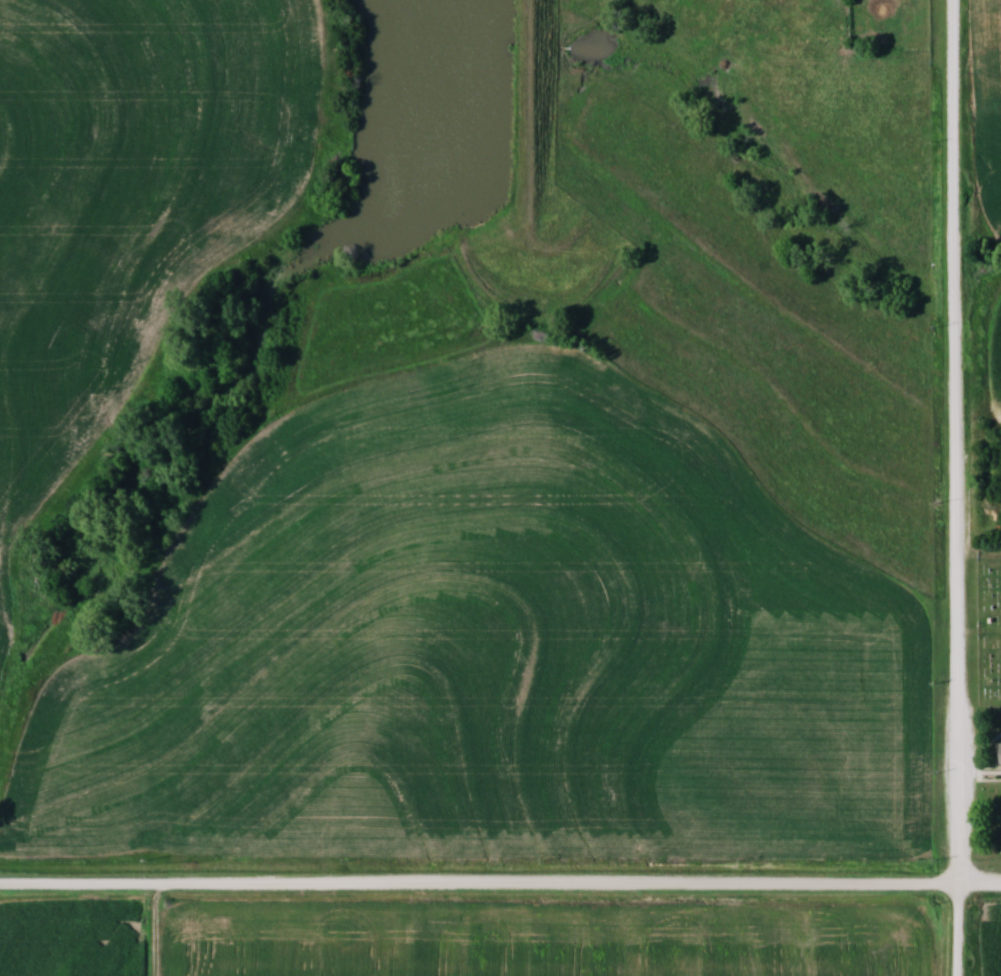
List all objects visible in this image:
road: (958, 488)
building: (1000, 755)
road: (500, 883)

